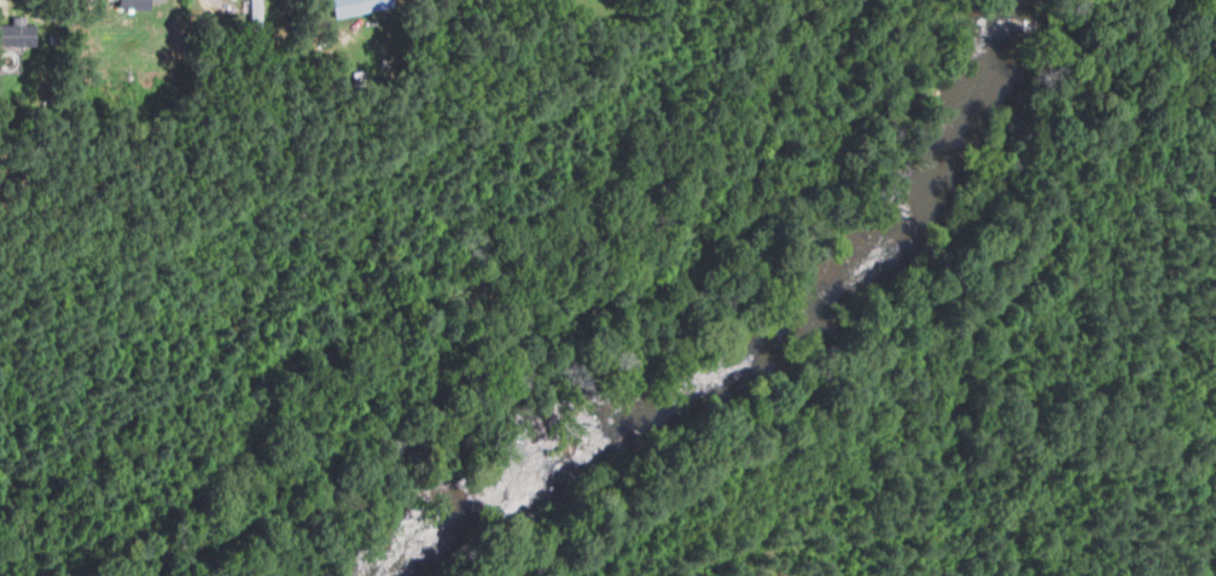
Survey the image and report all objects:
building: (136, 4)
building: (359, 6)
building: (256, 12)
building: (18, 33)
road: (192, 112)
river: (970, 192)
river: (611, 450)

